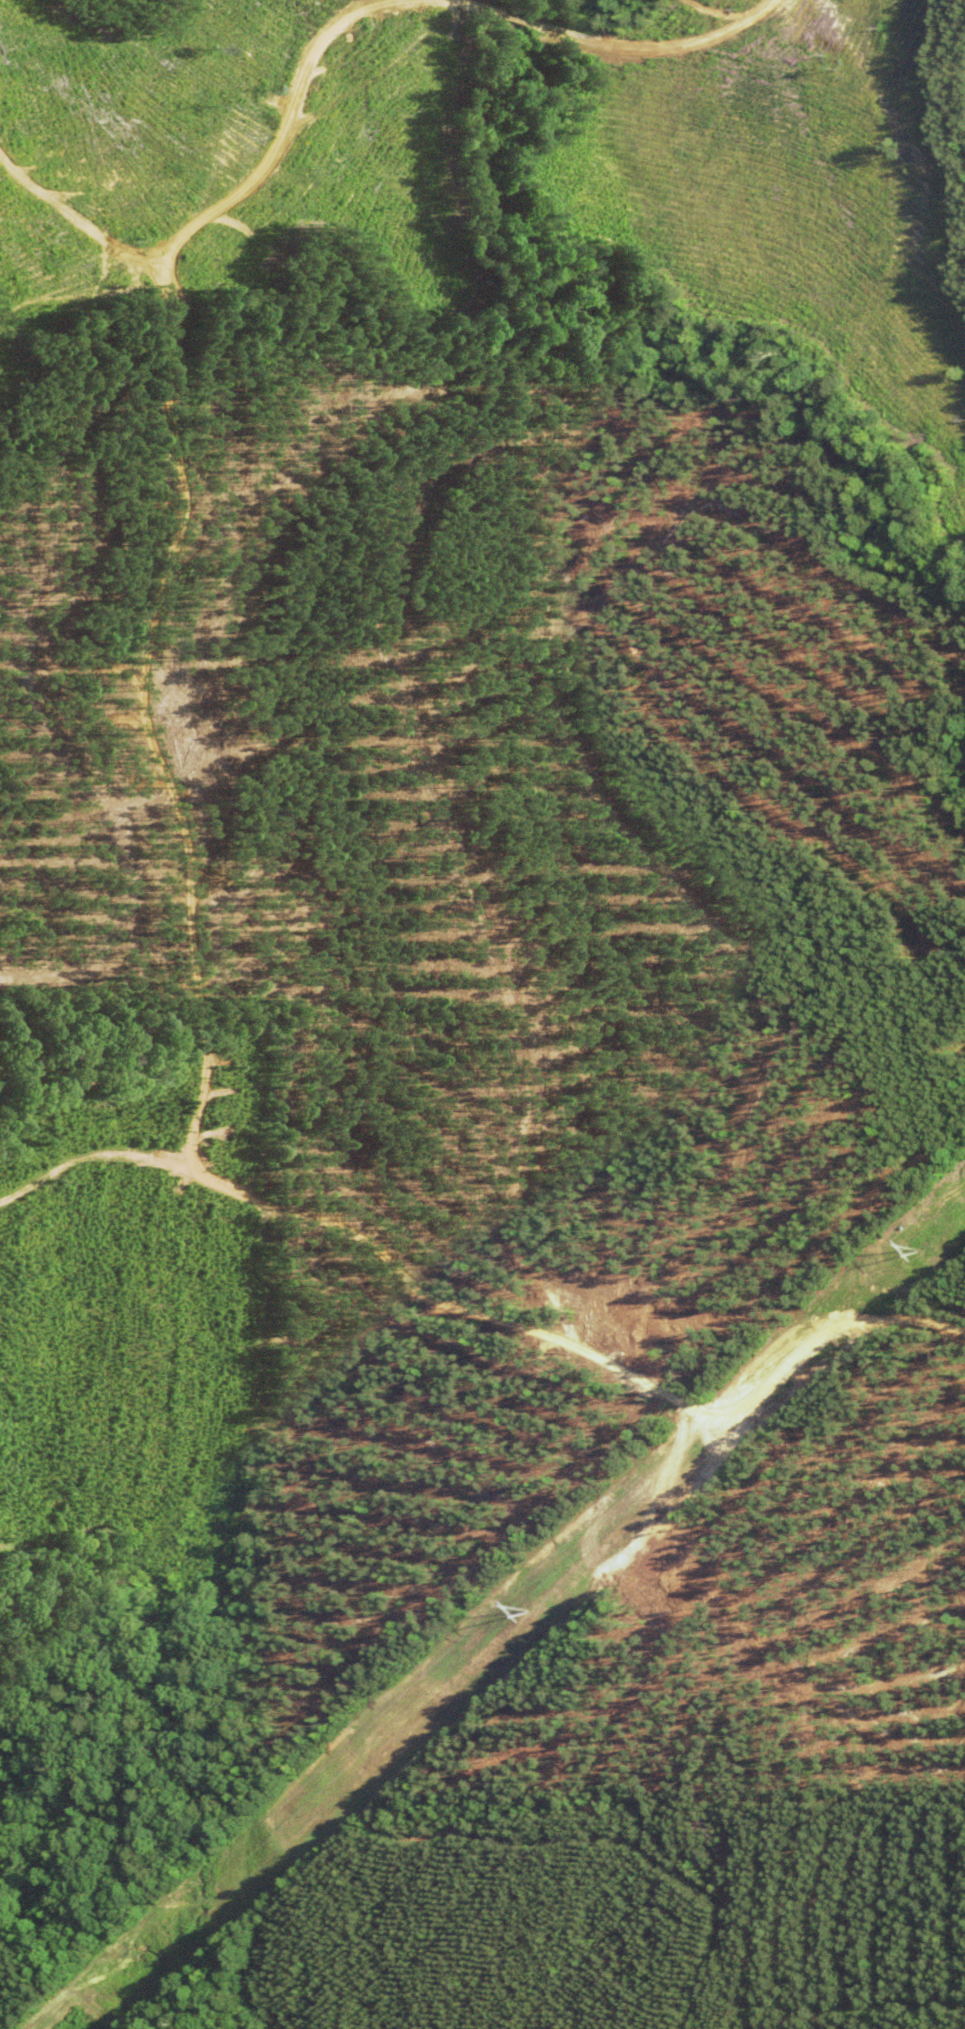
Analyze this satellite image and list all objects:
power tower: (919, 1251)
power tower: (529, 1612)

